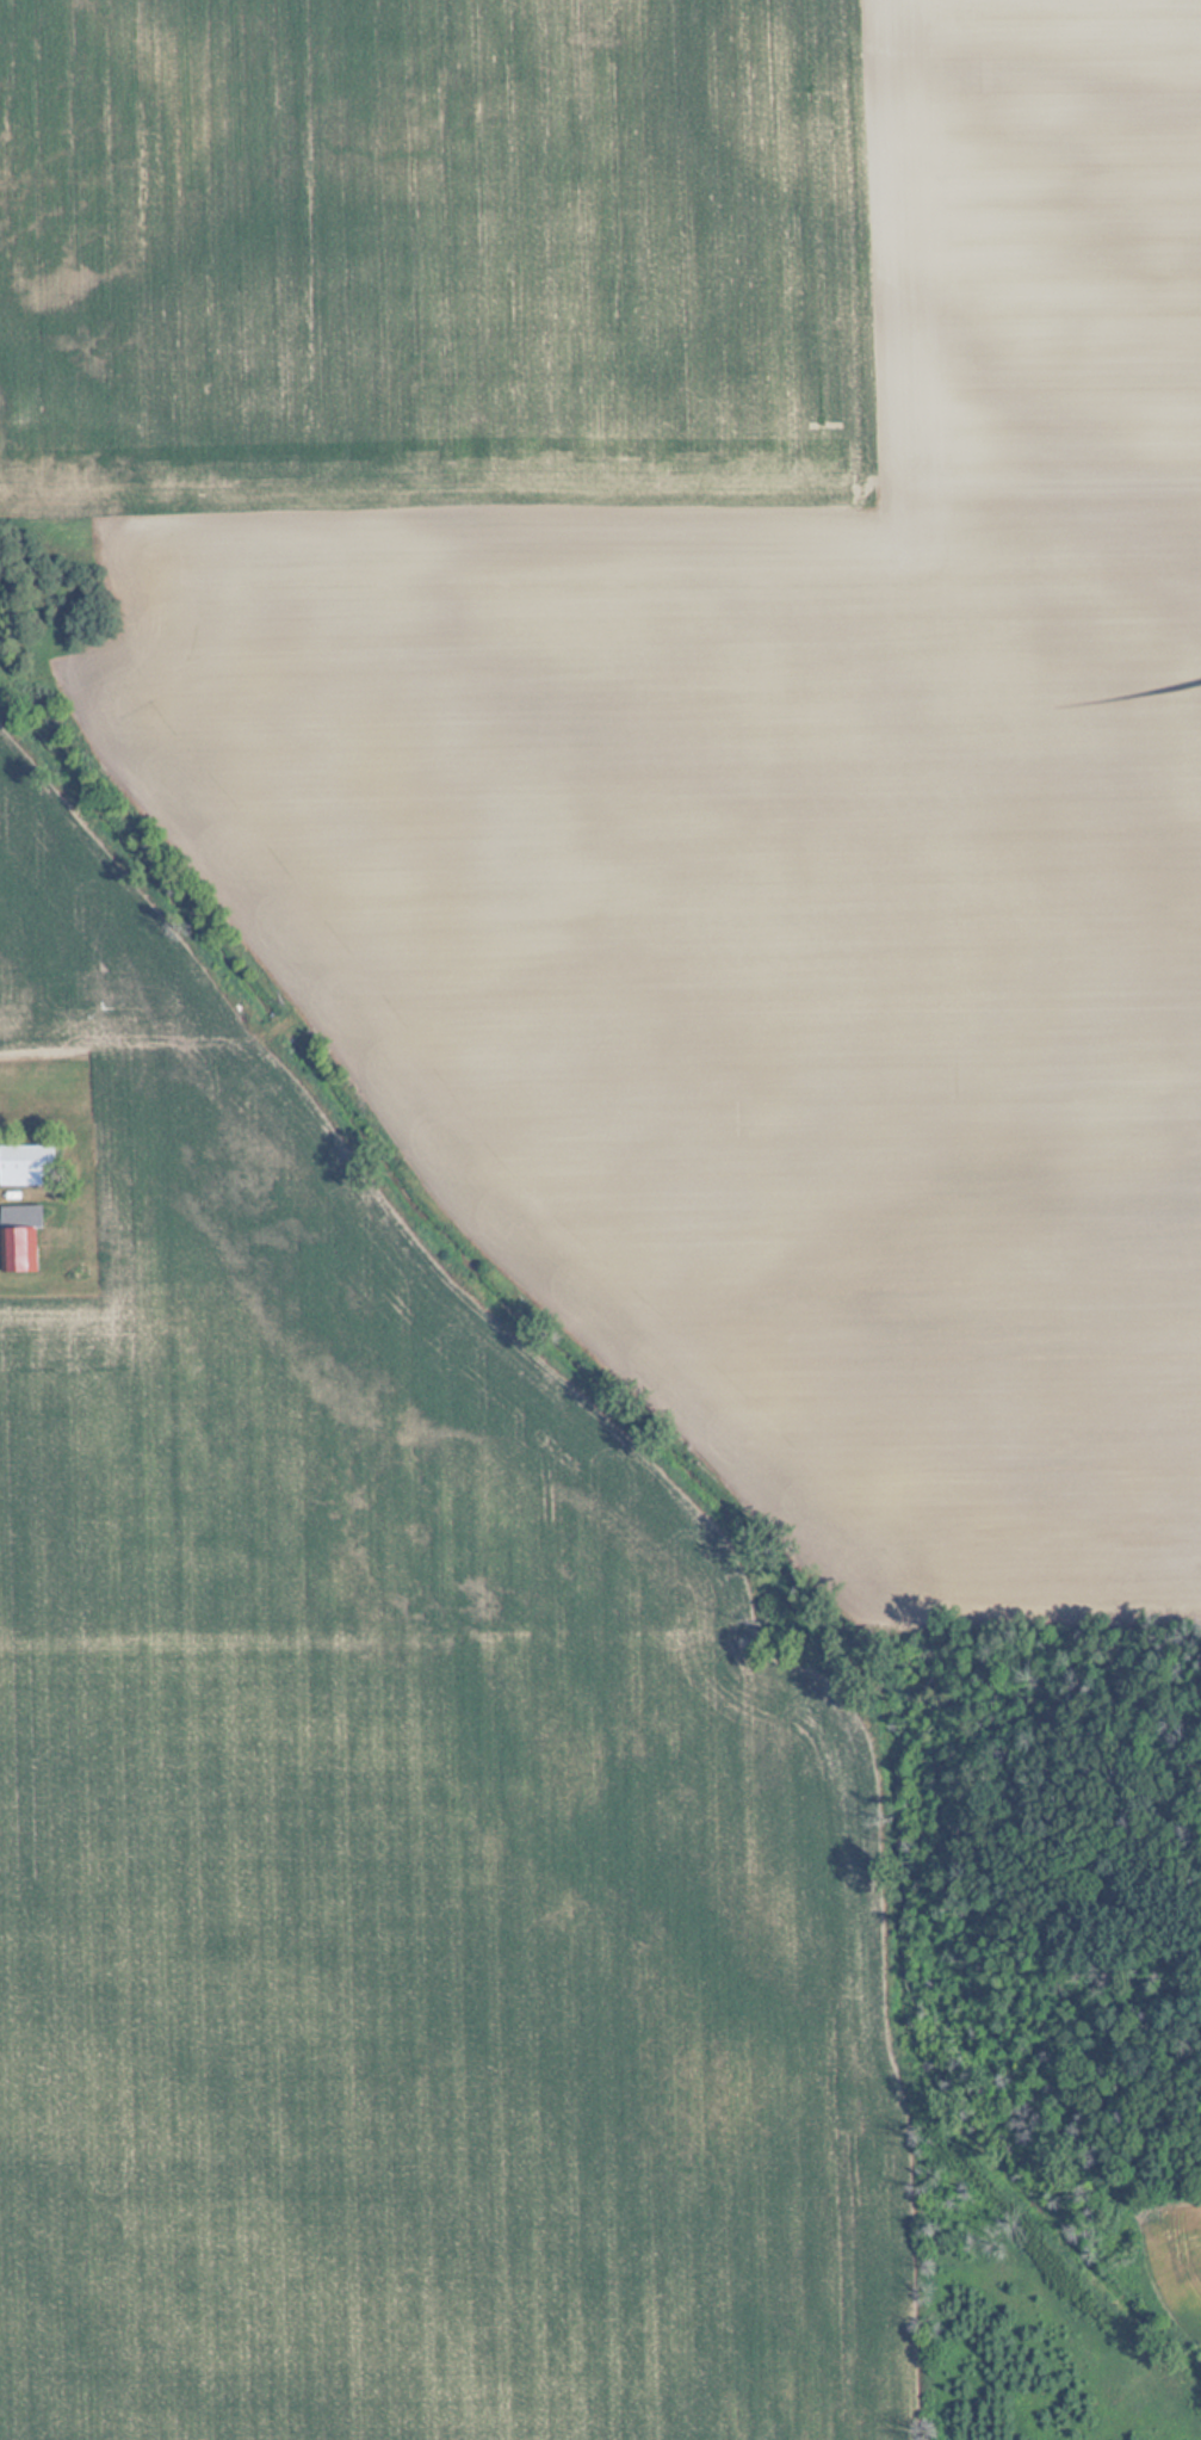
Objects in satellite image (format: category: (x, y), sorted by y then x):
building: (25, 1163)
building: (18, 1235)

